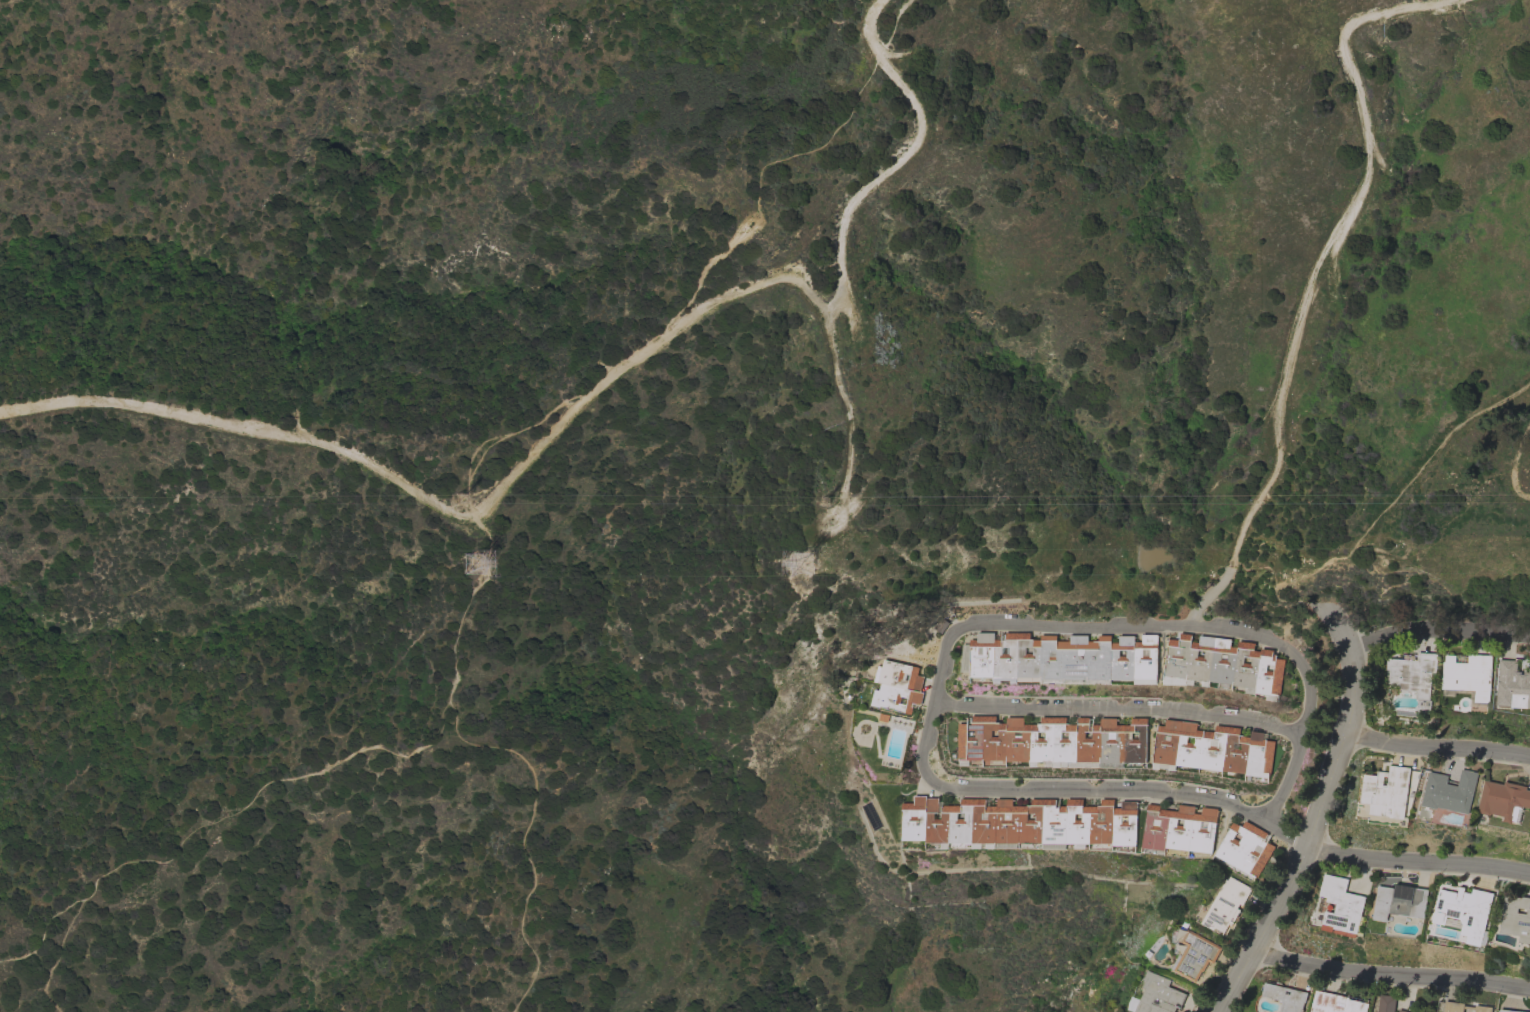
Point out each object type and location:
road: (895, 162)
road: (1314, 281)
road: (534, 459)
power tower: (821, 498)
power tower: (458, 500)
power tower: (806, 562)
power tower: (477, 565)
road: (1440, 624)
building: (940, 625)
road: (957, 630)
road: (1347, 634)
building: (1062, 656)
building: (1223, 663)
building: (1412, 673)
building: (1467, 675)
building: (1513, 685)
building: (896, 686)
road: (1119, 711)
building: (1052, 740)
building: (1213, 748)
road: (1446, 748)
road: (510, 753)
building: (1449, 791)
building: (1386, 792)
building: (1504, 800)
building: (1019, 822)
road: (198, 824)
building: (1180, 828)
road: (1307, 832)
building: (1244, 848)
road: (1415, 858)
building: (1400, 901)
building: (1226, 904)
building: (1341, 904)
building: (1465, 911)
building: (1516, 917)
road: (37, 930)
building: (1195, 956)
road: (1391, 976)
building: (1156, 996)
building: (1286, 997)
building: (1336, 1003)
building: (1386, 1003)
building: (1463, 1007)
building: (1402, 1011)
building: (1507, 1011)

